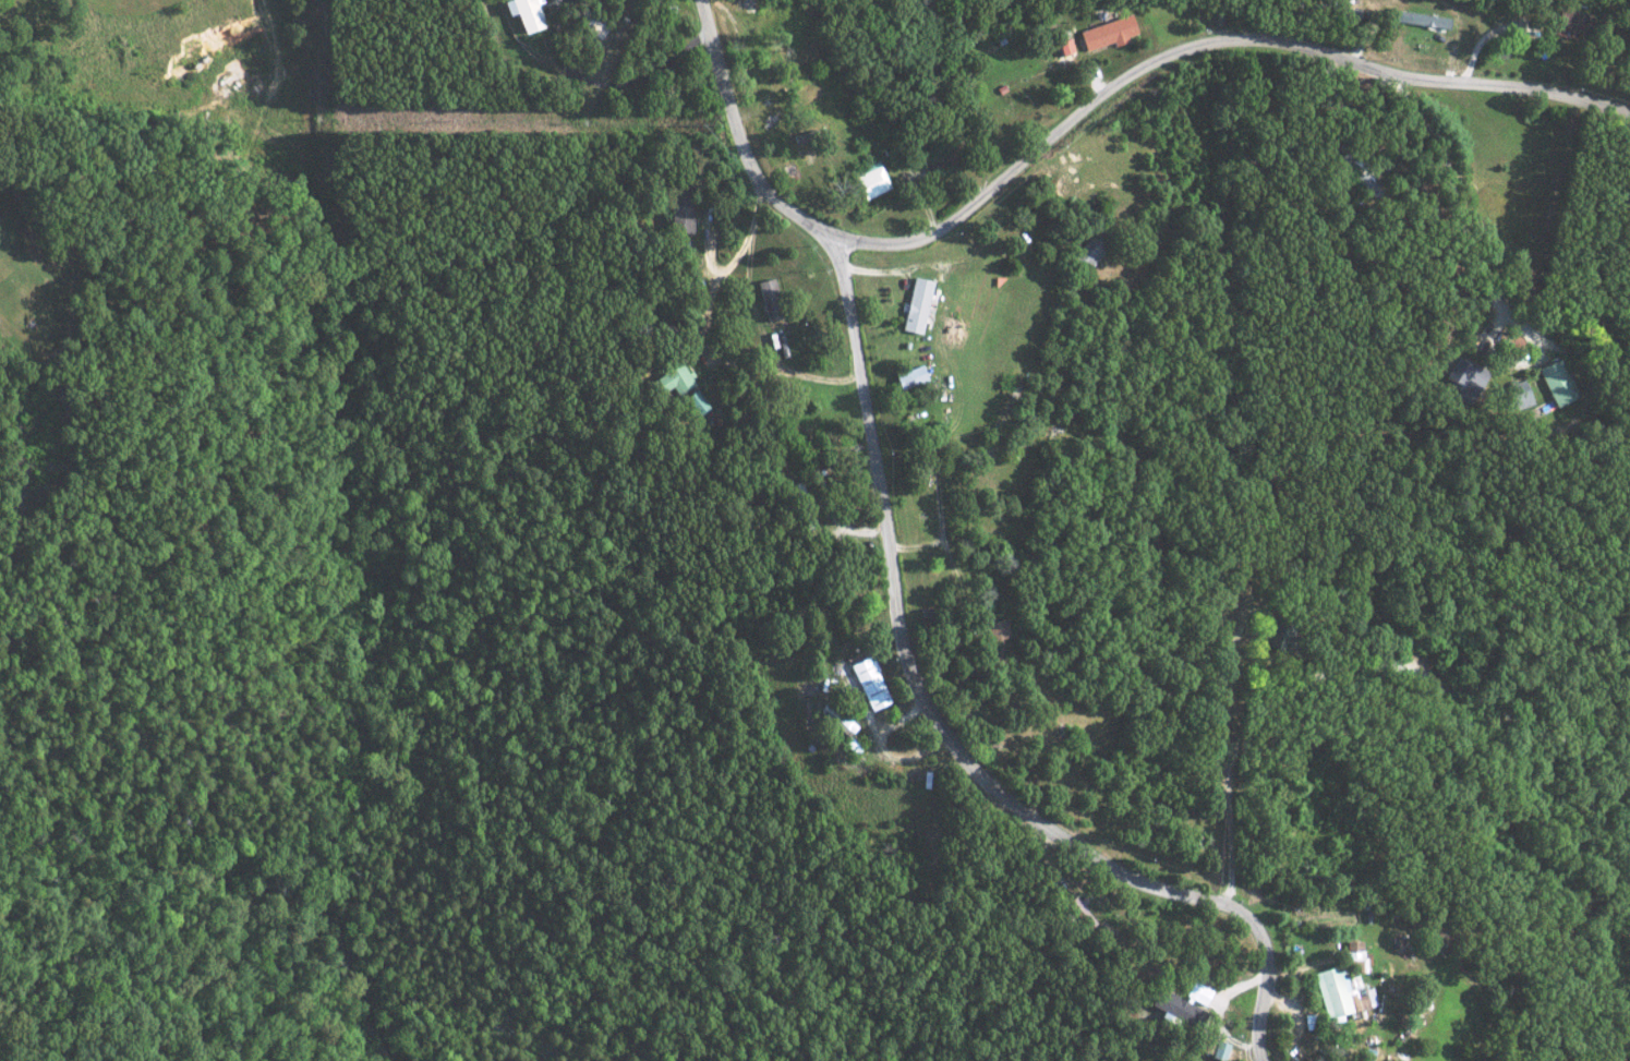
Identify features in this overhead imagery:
building: (524, 13)
building: (1420, 17)
building: (1106, 32)
building: (1063, 46)
road: (1360, 63)
building: (870, 179)
road: (981, 202)
building: (679, 210)
building: (1089, 250)
road: (1470, 250)
road: (872, 270)
building: (768, 299)
building: (914, 304)
road: (702, 338)
building: (908, 376)
building: (1463, 376)
building: (671, 378)
building: (1555, 382)
building: (1514, 391)
building: (692, 400)
road: (899, 599)
building: (994, 631)
building: (868, 683)
building: (837, 721)
building: (1079, 912)
building: (1352, 950)
building: (1196, 992)
building: (1338, 993)
building: (1174, 1010)
building: (1217, 1050)

